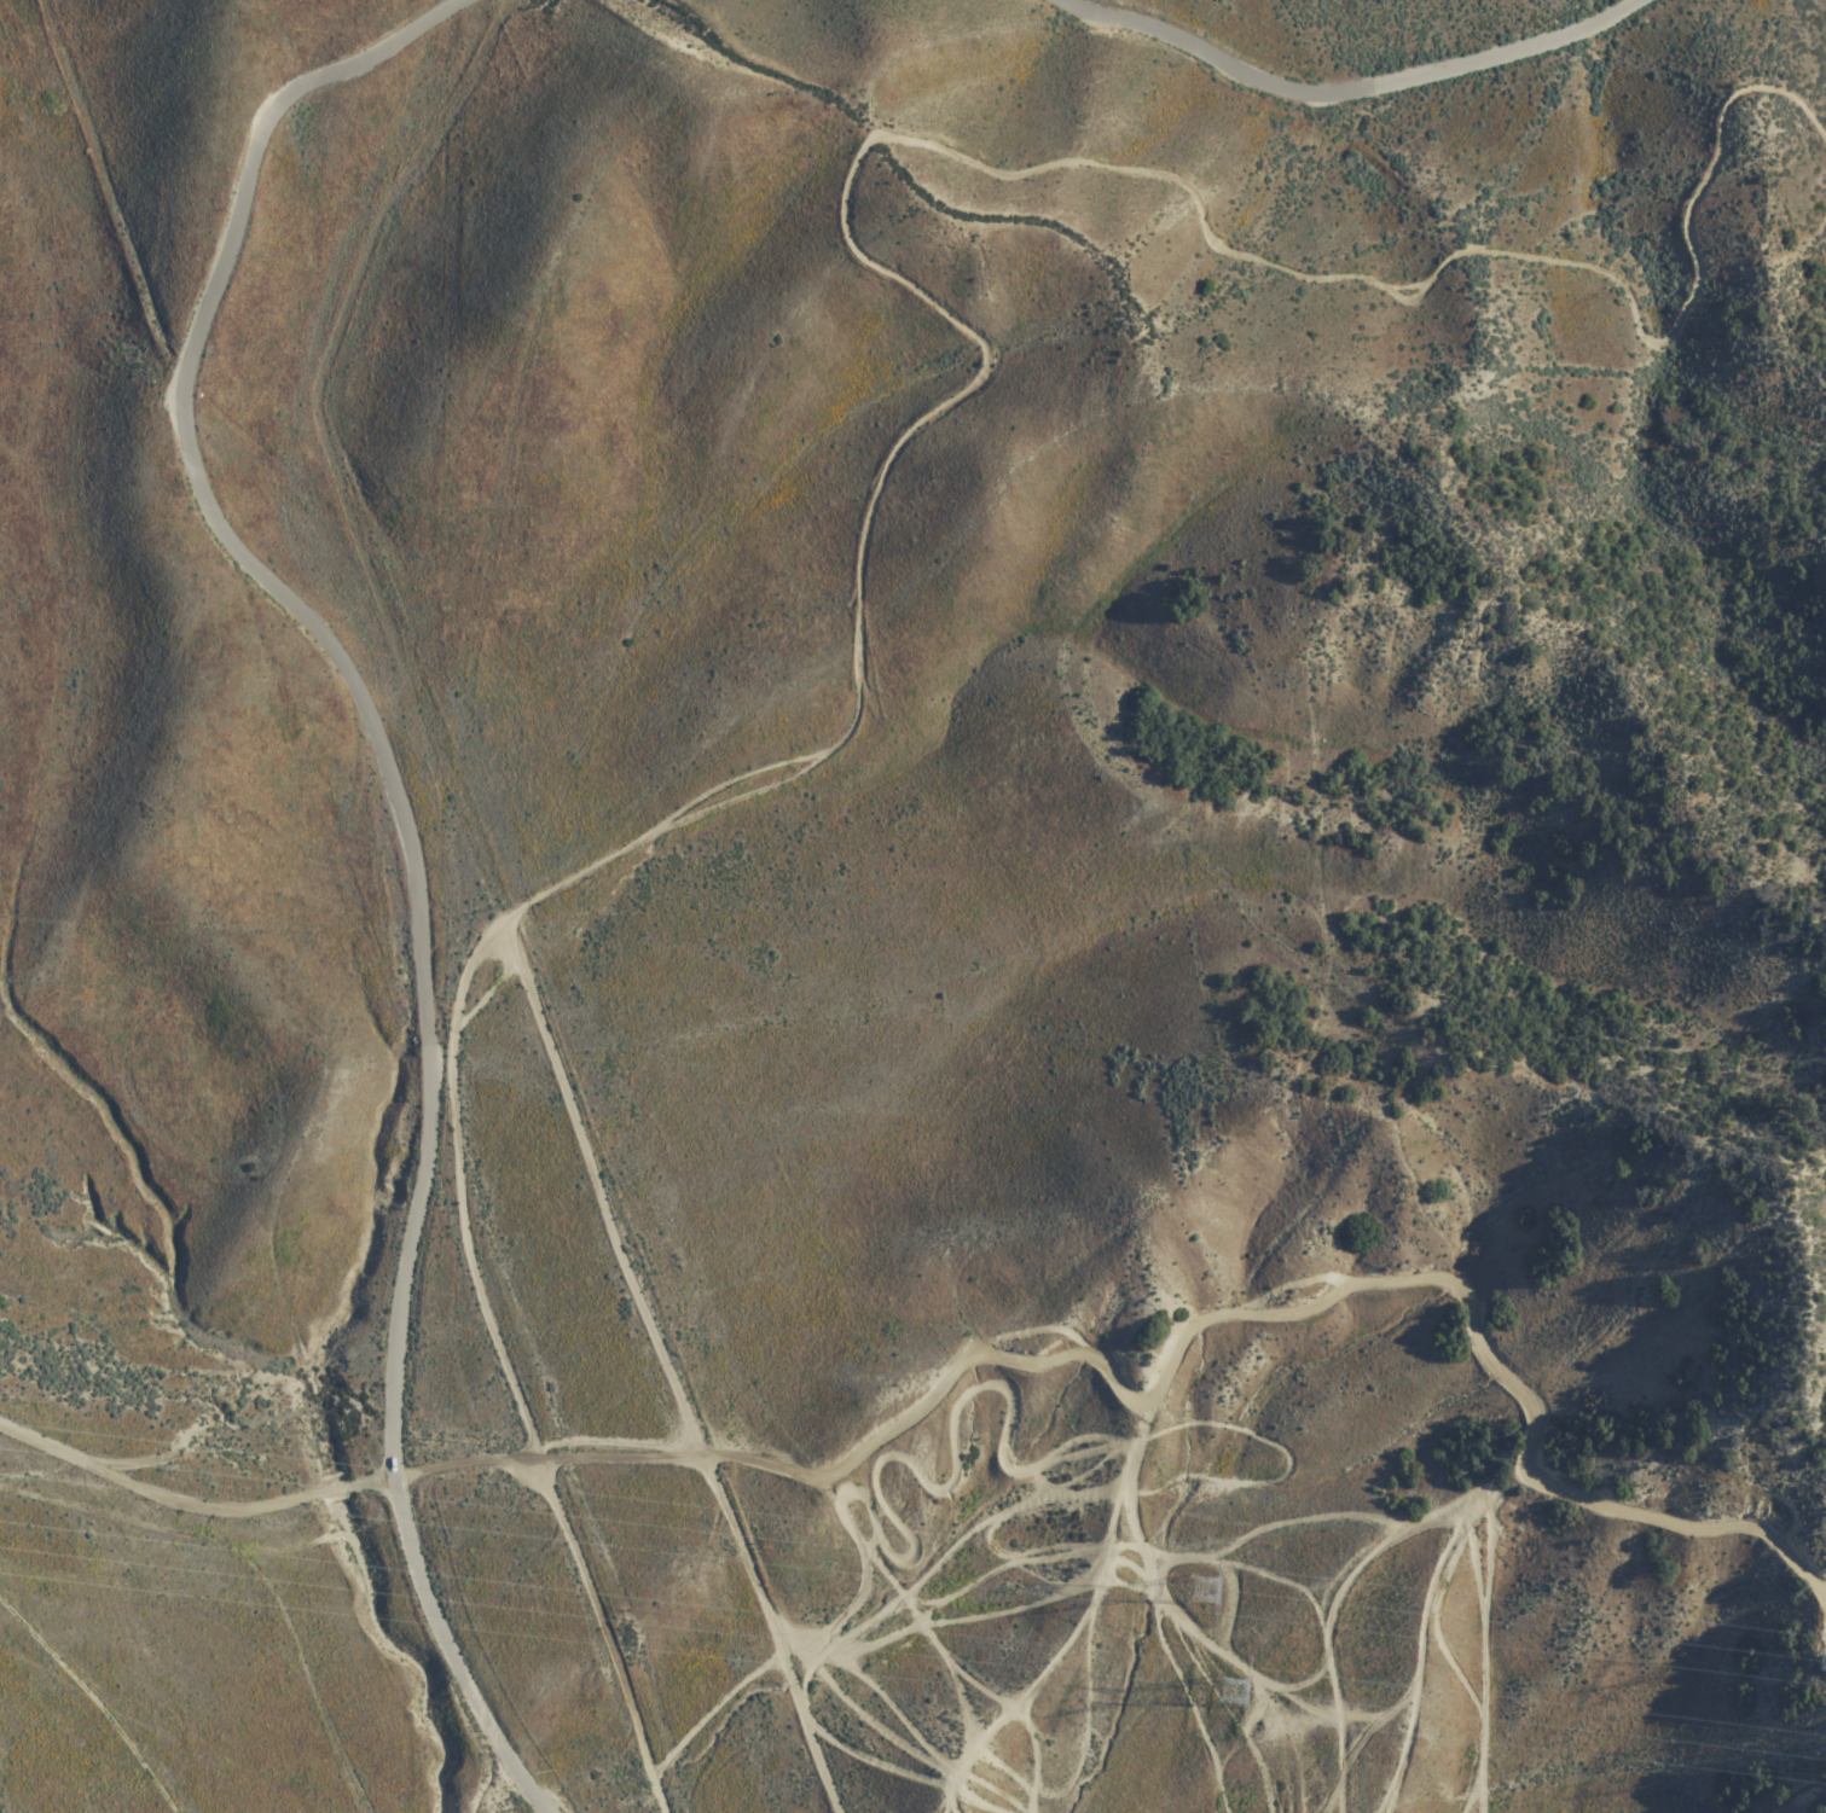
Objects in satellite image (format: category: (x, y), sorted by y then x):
road: (1350, 91)
road: (932, 413)
road: (405, 827)
road: (1466, 1295)
road: (669, 1370)
road: (801, 1477)
road: (373, 1484)
road: (152, 1487)
road: (334, 1493)
road: (1766, 1536)
power tower: (1202, 1593)
power tower: (1230, 1693)

